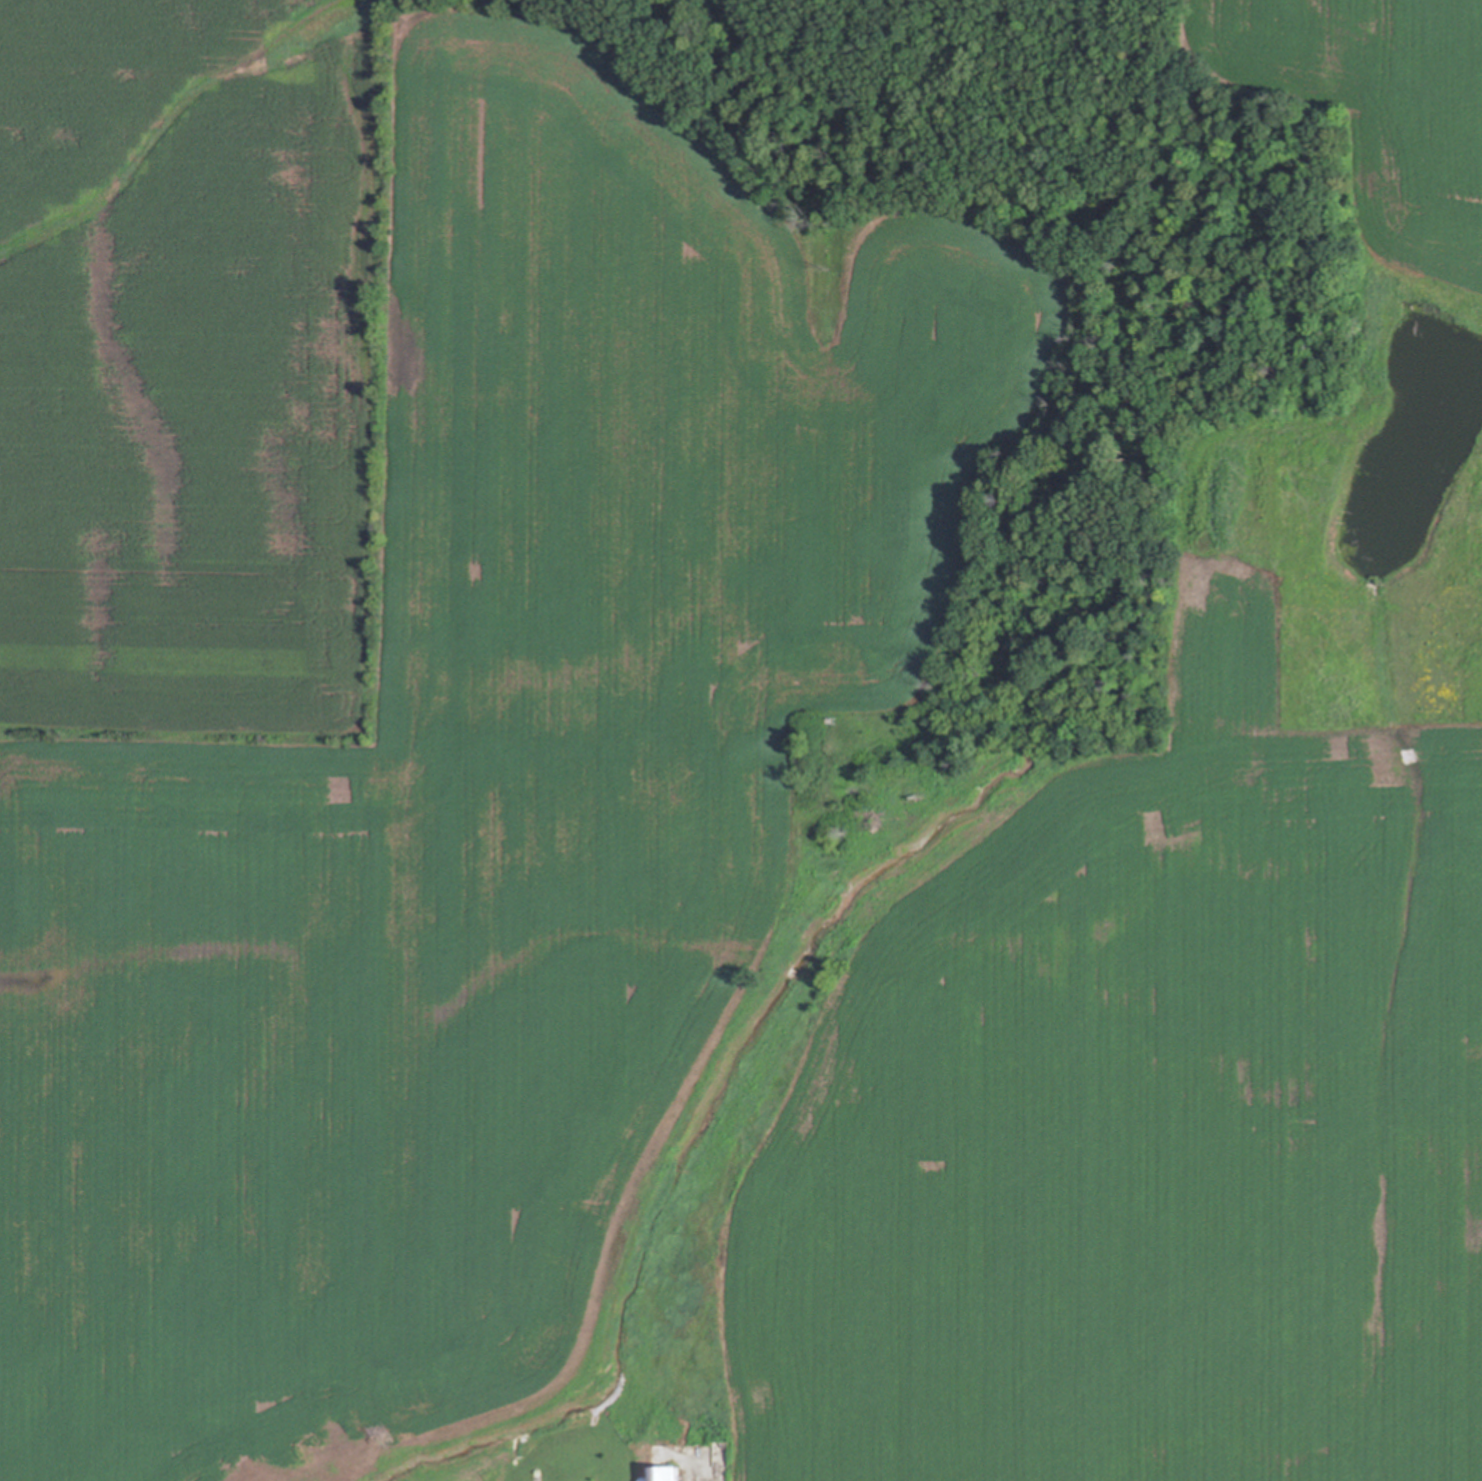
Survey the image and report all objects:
building: (667, 1470)

